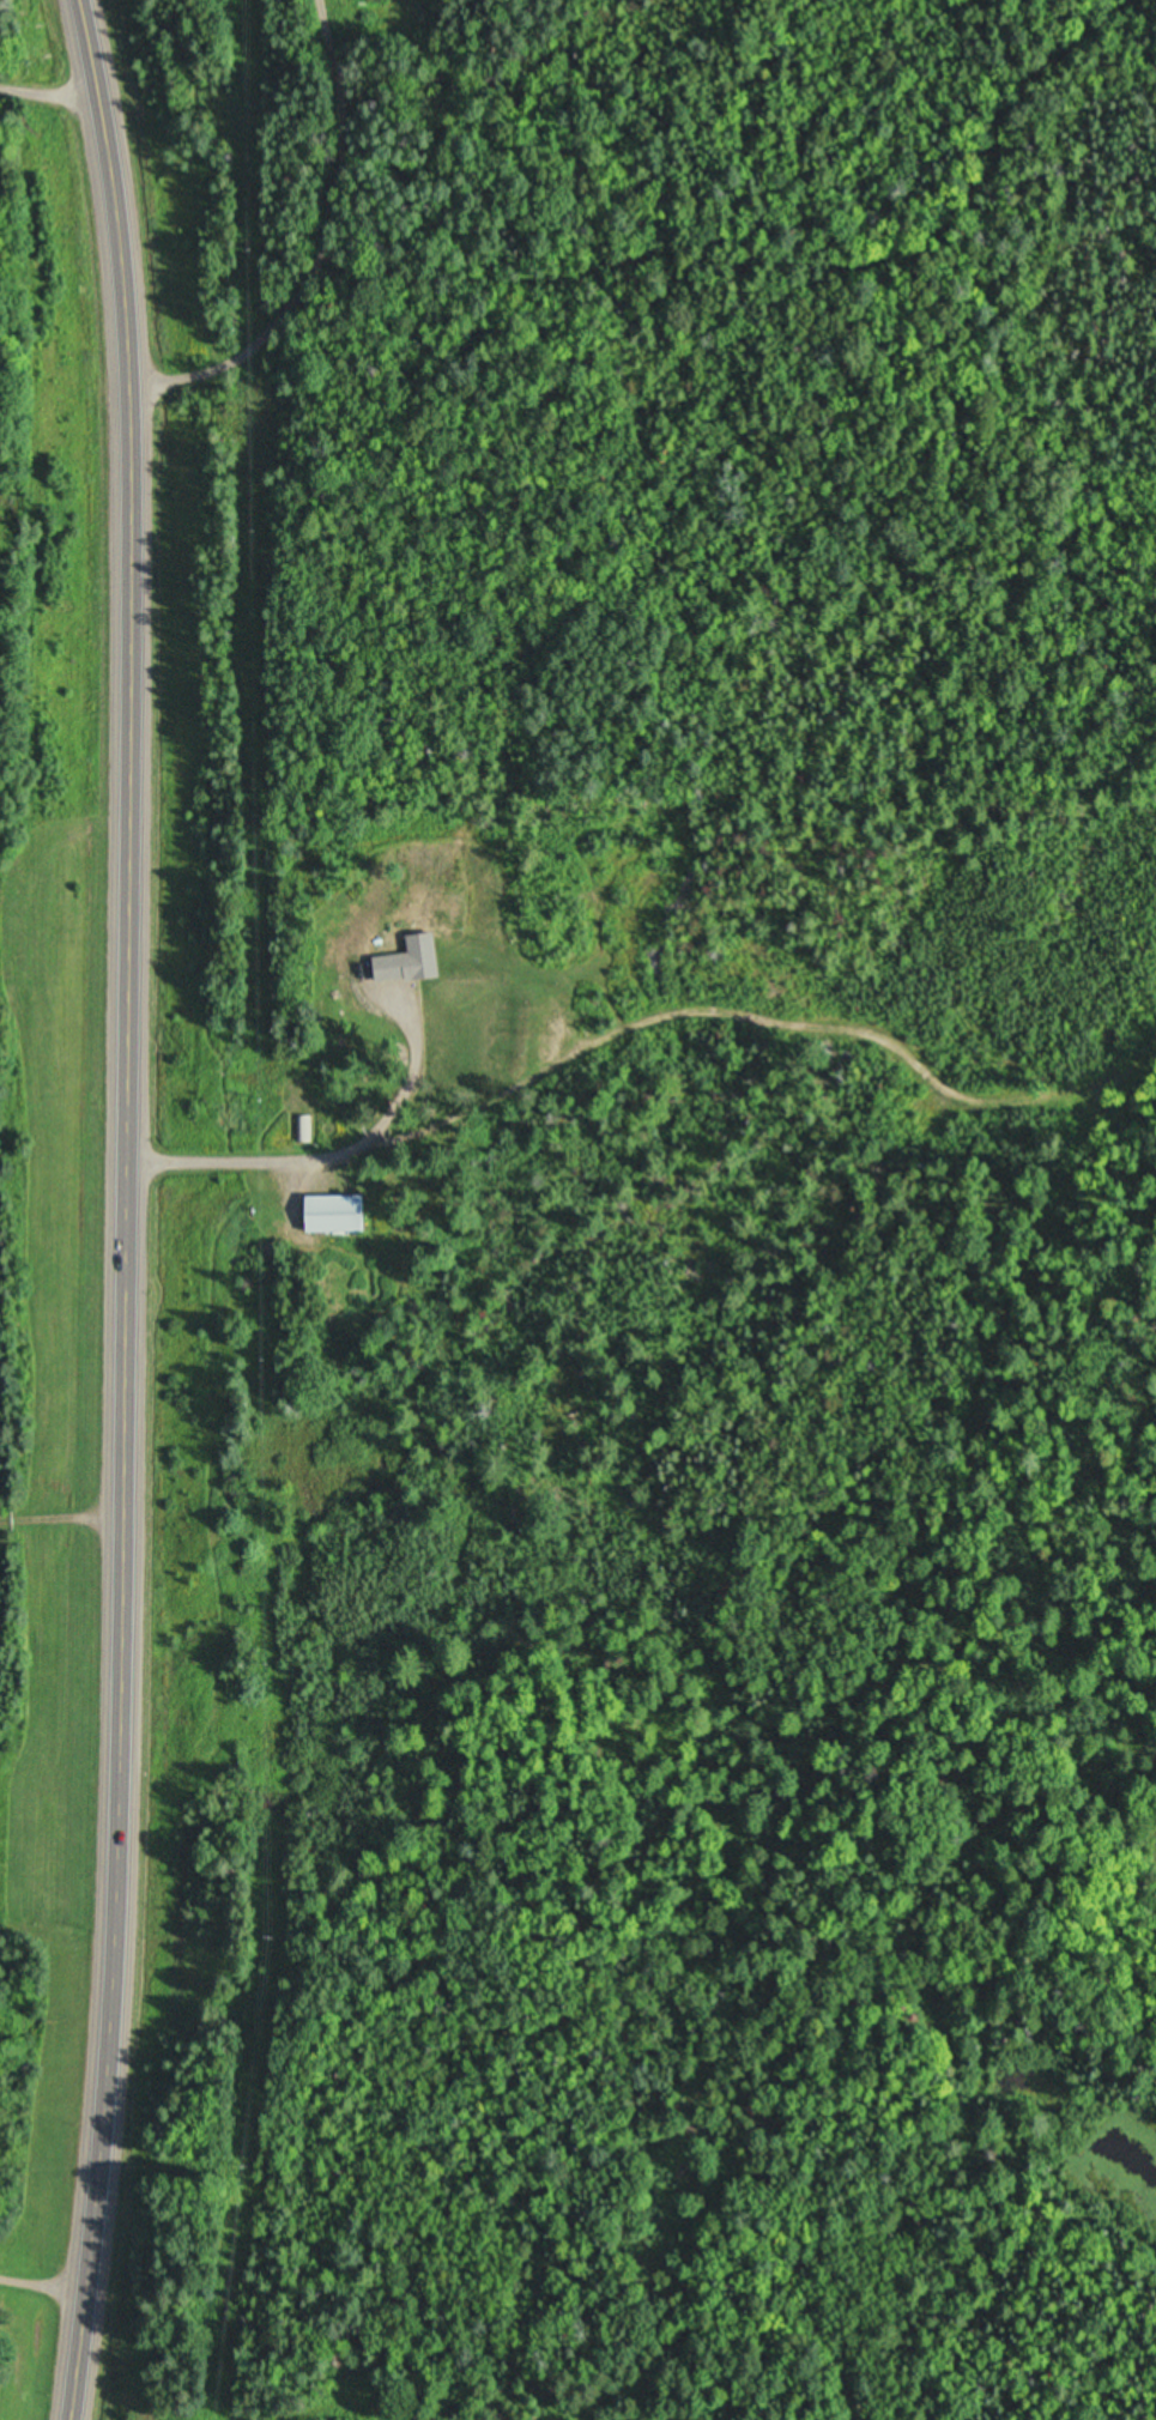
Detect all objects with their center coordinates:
road: (133, 1209)
building: (328, 1215)
road: (624, 1578)
road: (886, 1753)

